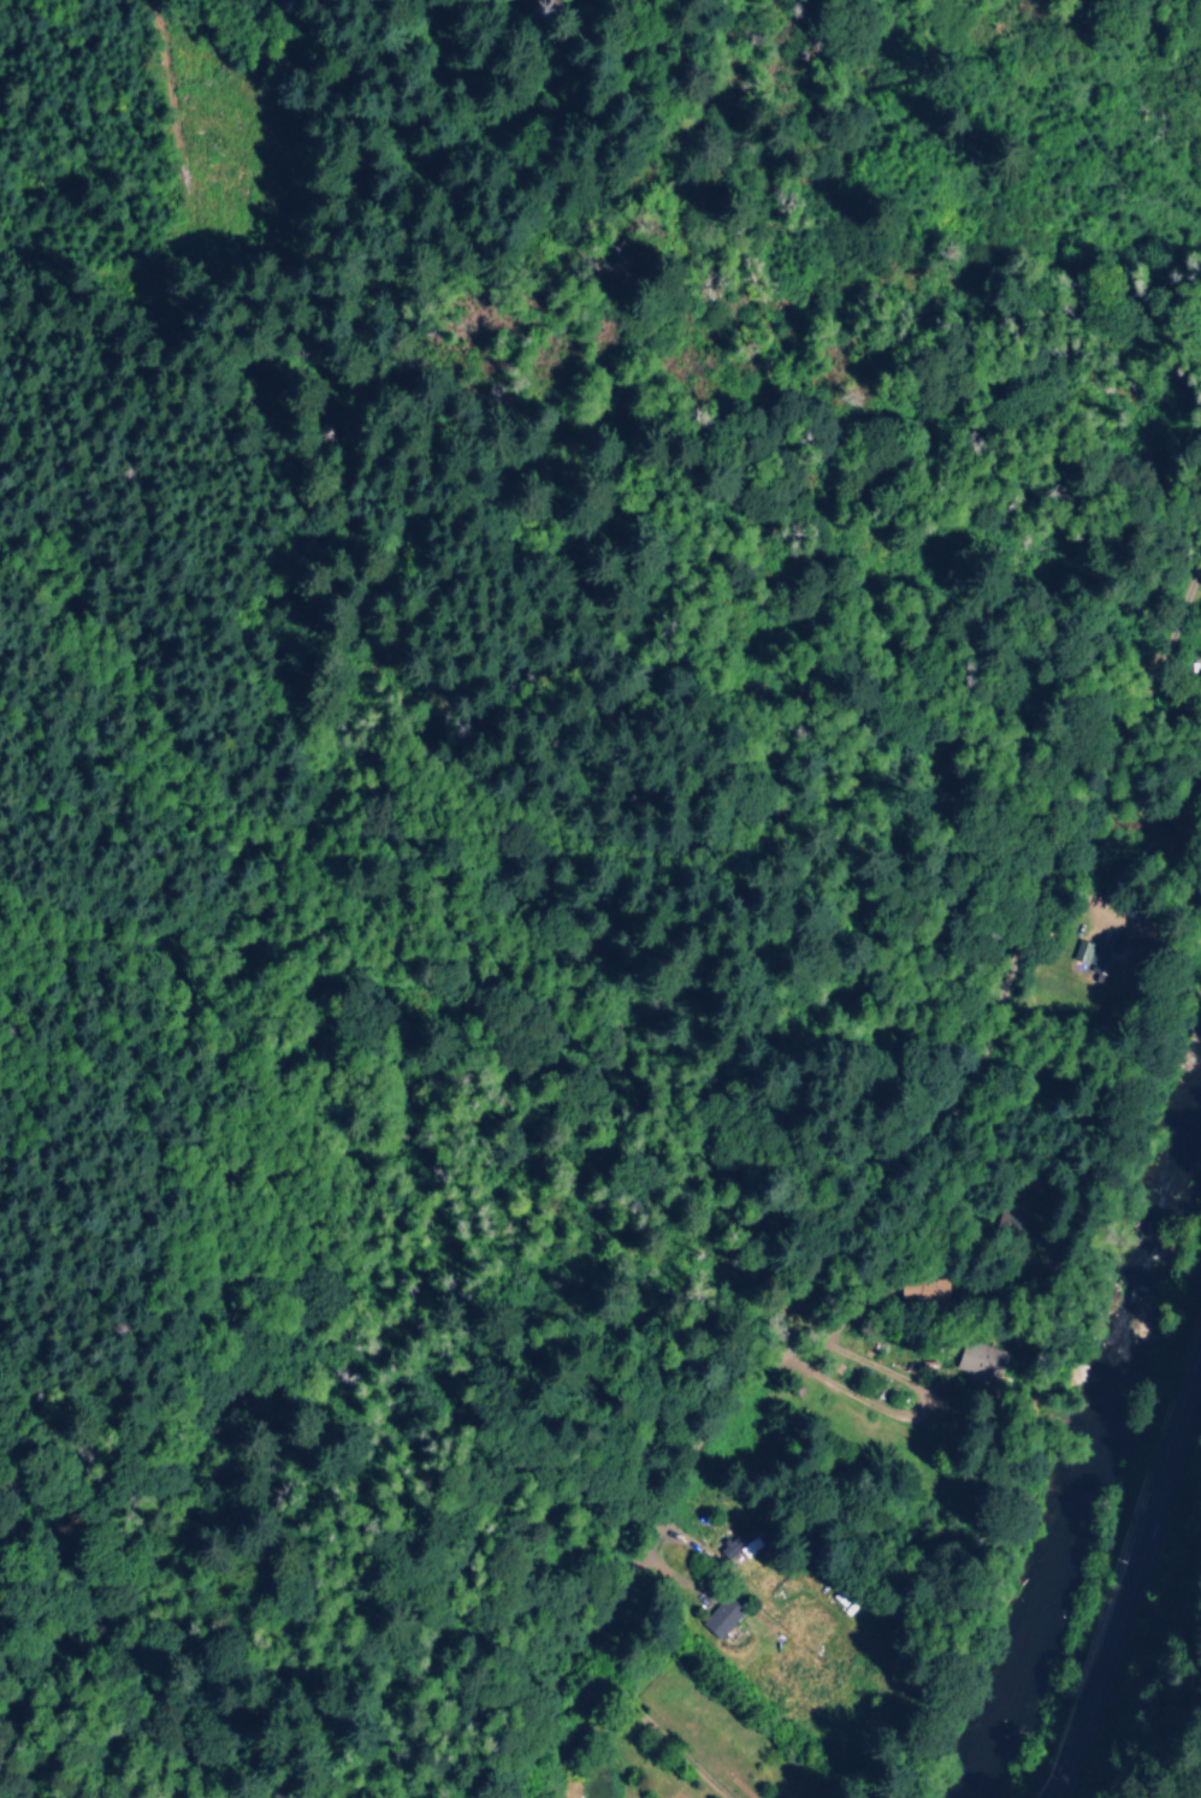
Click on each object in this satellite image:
road: (828, 1230)
building: (977, 1359)
river: (1090, 1475)
road: (1134, 1571)
building: (718, 1616)

